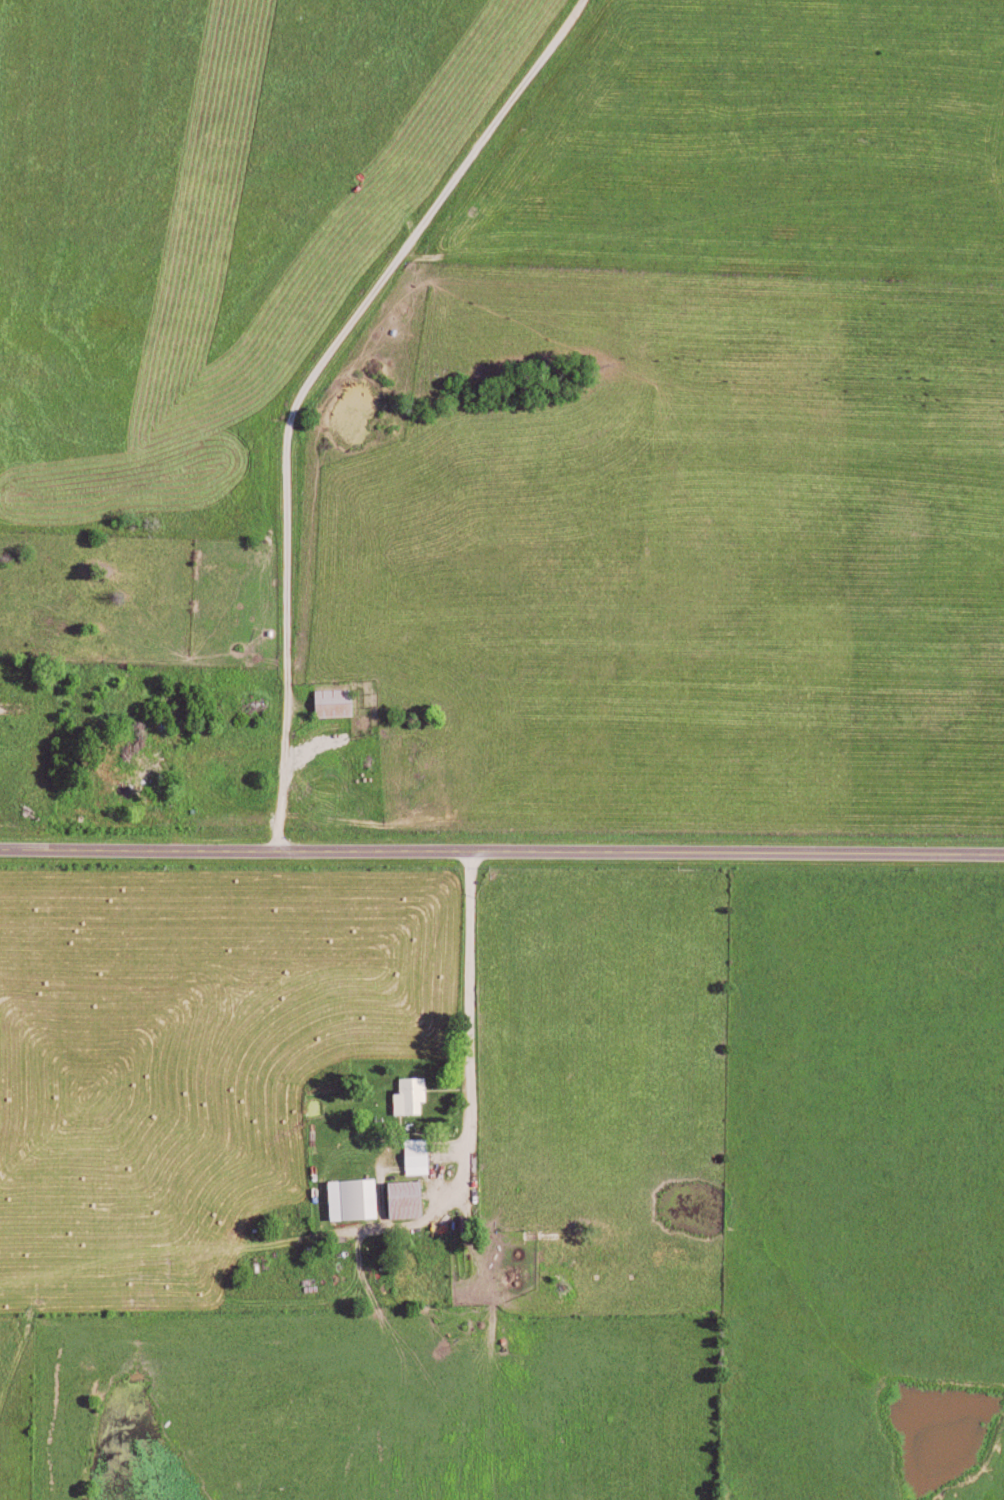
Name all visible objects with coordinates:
road: (308, 382)
building: (338, 701)
road: (501, 852)
road: (471, 1034)
building: (414, 1095)
building: (420, 1155)
building: (356, 1198)

